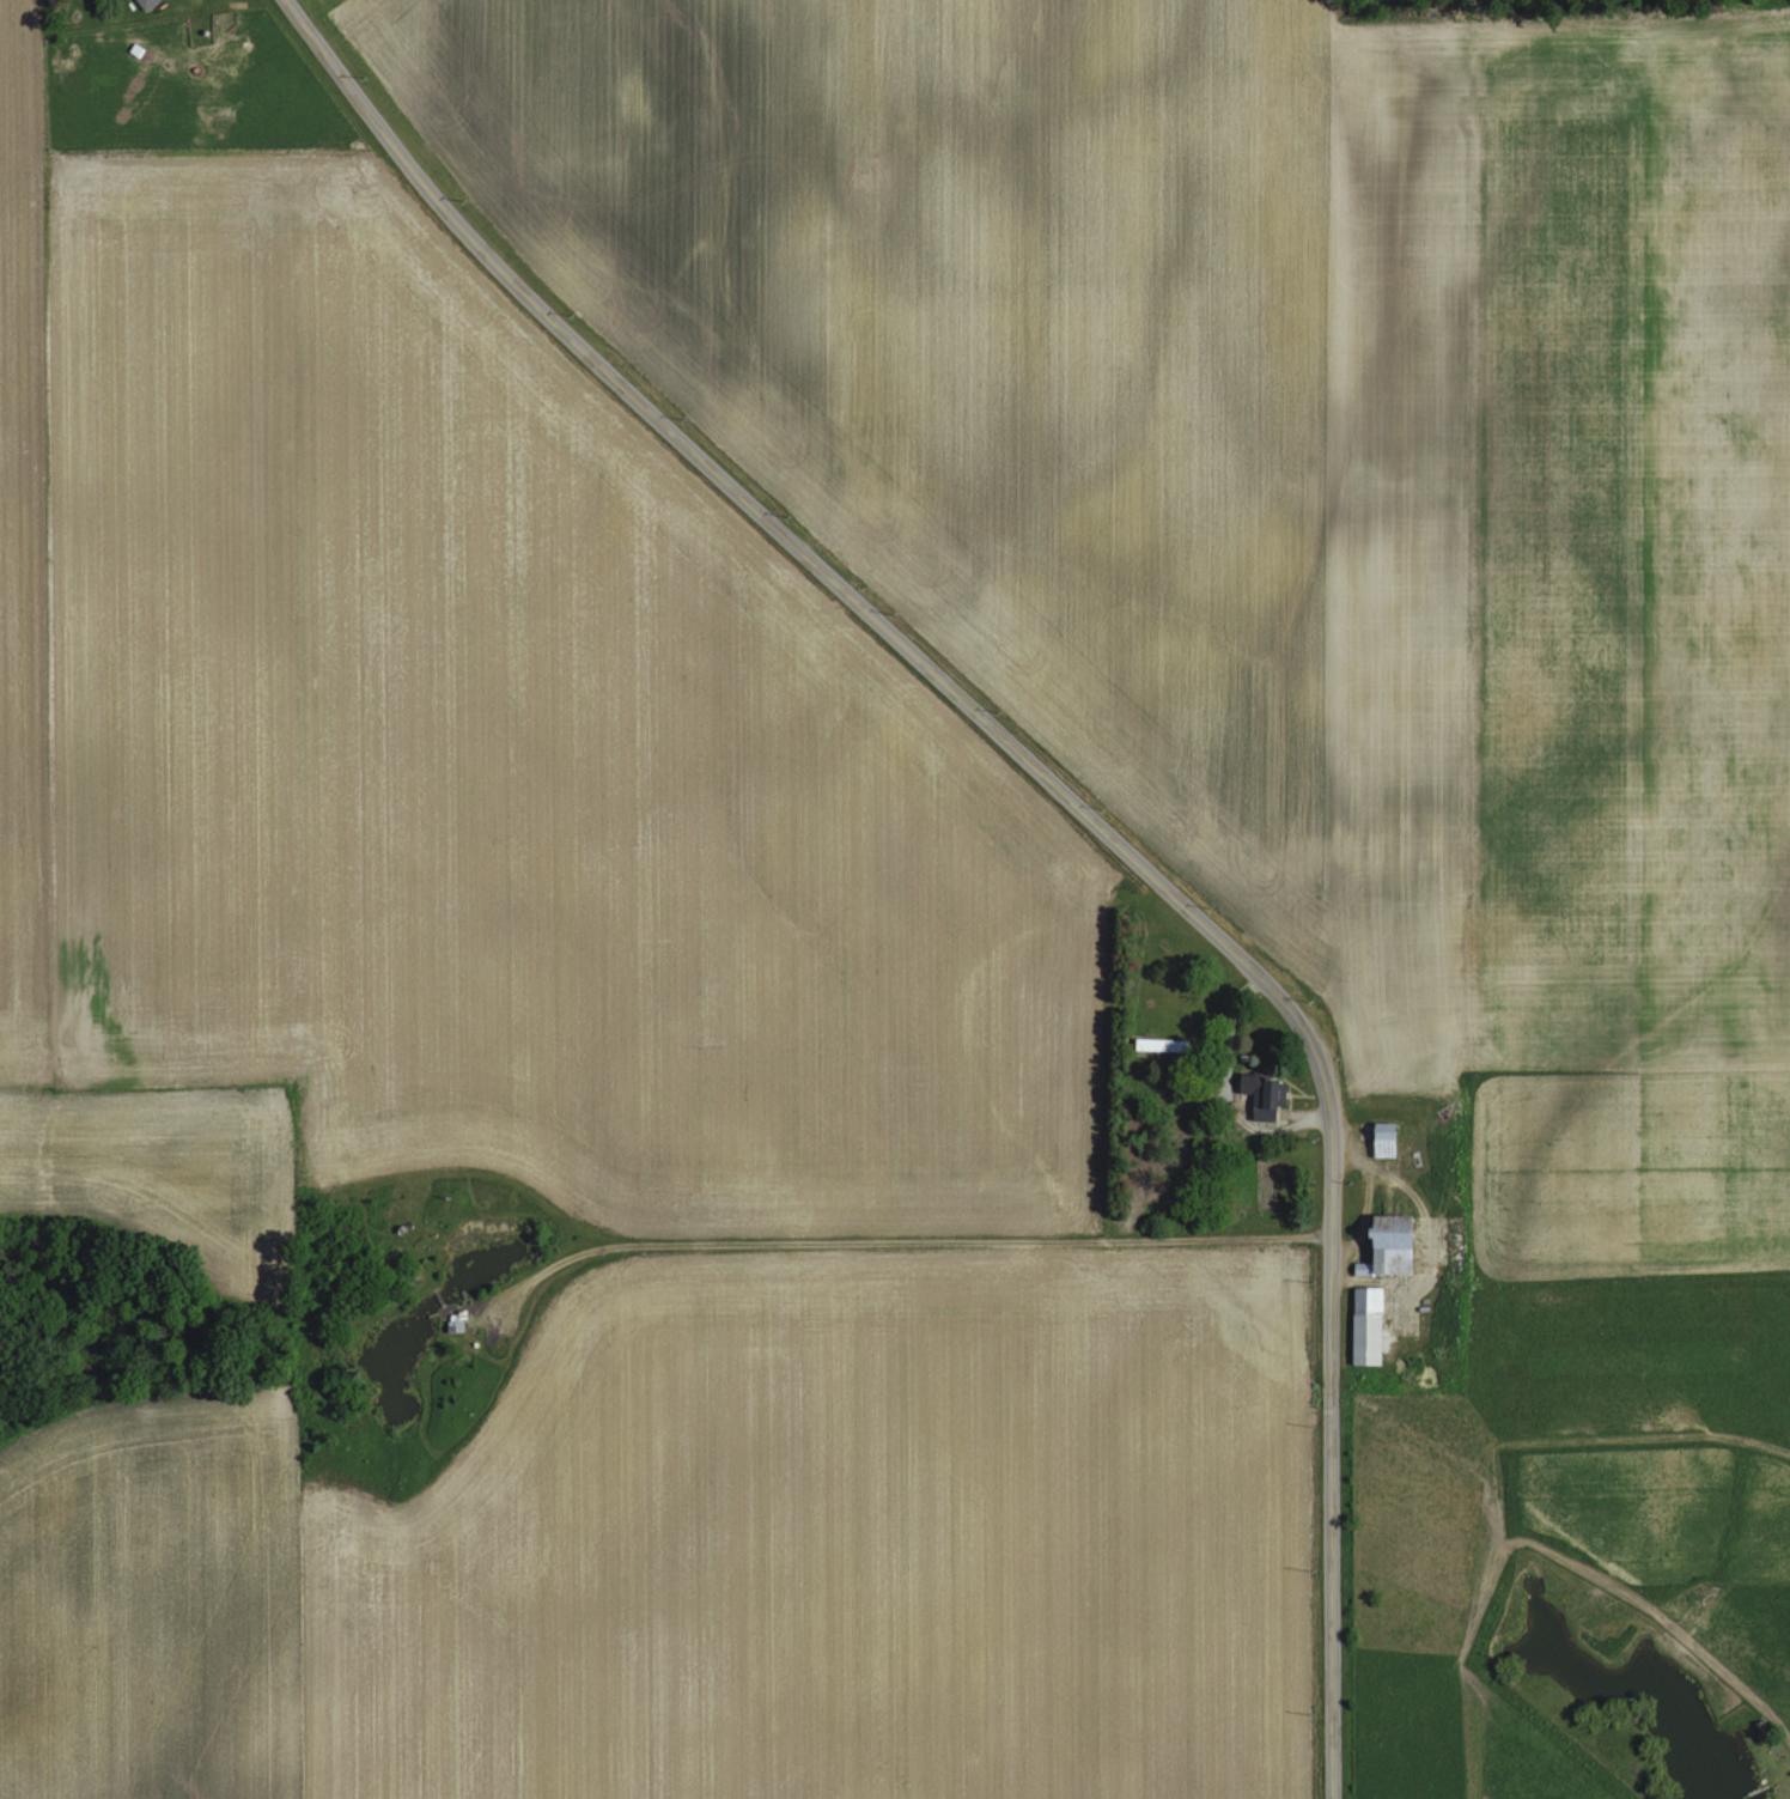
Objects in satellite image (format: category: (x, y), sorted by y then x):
building: (147, 4)
road: (1059, 794)
building: (1163, 1044)
building: (1258, 1087)
building: (1386, 1139)
building: (1394, 1244)
building: (1369, 1325)

